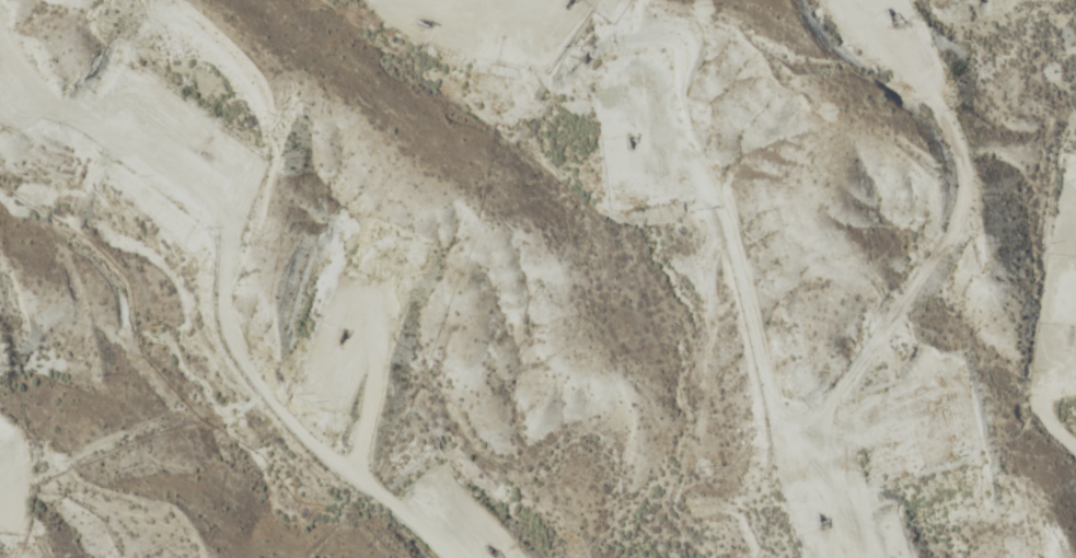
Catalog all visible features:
road: (865, 264)
road: (175, 315)

